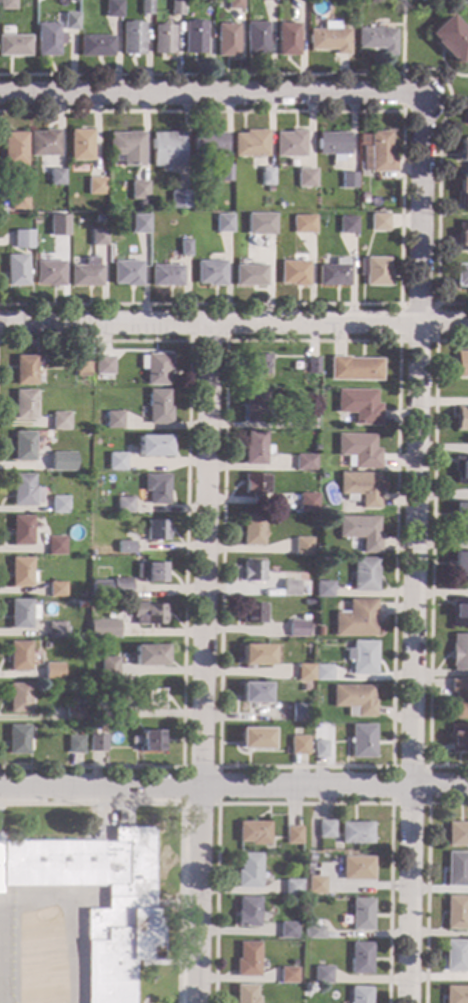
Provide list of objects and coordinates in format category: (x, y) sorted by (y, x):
building: (266, 0)
building: (233, 4)
building: (8, 5)
building: (145, 7)
building: (175, 8)
building: (112, 9)
building: (70, 21)
road: (401, 35)
building: (132, 38)
building: (193, 38)
building: (328, 38)
building: (162, 39)
building: (255, 39)
building: (286, 39)
building: (450, 39)
building: (49, 40)
building: (226, 40)
building: (377, 40)
building: (14, 46)
building: (95, 47)
road: (446, 70)
road: (200, 74)
road: (444, 74)
road: (401, 91)
road: (210, 93)
building: (467, 121)
building: (362, 140)
building: (43, 143)
building: (208, 144)
building: (250, 144)
building: (289, 144)
building: (80, 146)
building: (126, 146)
building: (333, 146)
building: (14, 149)
building: (166, 149)
building: (462, 149)
building: (378, 153)
building: (225, 173)
building: (55, 177)
building: (266, 177)
building: (304, 178)
building: (348, 180)
road: (437, 183)
building: (95, 186)
building: (269, 189)
building: (138, 191)
building: (463, 194)
building: (363, 196)
building: (180, 199)
building: (18, 200)
road: (400, 207)
building: (99, 220)
building: (378, 223)
building: (139, 224)
building: (222, 224)
building: (264, 225)
building: (303, 225)
building: (347, 225)
building: (27, 230)
building: (58, 234)
building: (462, 236)
building: (97, 237)
building: (22, 243)
building: (184, 248)
building: (15, 270)
building: (293, 272)
building: (374, 272)
building: (85, 273)
building: (125, 273)
building: (209, 273)
building: (333, 273)
building: (48, 274)
building: (461, 275)
building: (165, 276)
building: (248, 276)
road: (435, 304)
road: (234, 324)
road: (206, 342)
building: (256, 364)
building: (461, 364)
building: (103, 365)
building: (311, 365)
building: (81, 367)
building: (154, 368)
building: (354, 369)
building: (24, 371)
building: (87, 384)
building: (24, 405)
building: (254, 405)
building: (358, 406)
building: (157, 407)
building: (461, 419)
building: (112, 420)
building: (304, 420)
building: (59, 421)
building: (152, 446)
building: (23, 447)
building: (255, 449)
building: (357, 451)
building: (115, 462)
building: (51, 463)
building: (304, 463)
building: (460, 469)
building: (253, 484)
building: (156, 488)
building: (359, 488)
building: (25, 491)
building: (304, 502)
building: (58, 505)
building: (123, 506)
building: (248, 508)
building: (460, 515)
building: (21, 530)
building: (156, 530)
building: (252, 530)
building: (360, 531)
building: (55, 546)
building: (302, 546)
building: (125, 547)
building: (319, 549)
road: (415, 550)
road: (184, 551)
road: (431, 557)
building: (459, 564)
building: (151, 572)
building: (252, 572)
building: (21, 573)
building: (364, 574)
building: (121, 587)
building: (290, 587)
building: (100, 588)
building: (56, 589)
building: (323, 589)
building: (252, 613)
building: (459, 613)
building: (22, 614)
building: (148, 615)
building: (356, 619)
building: (105, 629)
building: (297, 629)
building: (56, 631)
building: (318, 631)
building: (459, 652)
building: (19, 656)
building: (149, 656)
building: (255, 656)
building: (361, 657)
road: (202, 664)
building: (108, 668)
building: (304, 673)
building: (323, 673)
building: (47, 674)
building: (302, 689)
building: (253, 693)
building: (19, 698)
building: (152, 699)
building: (353, 700)
building: (458, 700)
building: (121, 713)
building: (298, 713)
building: (73, 715)
building: (254, 739)
building: (458, 739)
building: (18, 740)
building: (151, 741)
building: (362, 741)
building: (97, 743)
building: (75, 745)
building: (298, 746)
building: (320, 749)
road: (217, 767)
road: (218, 767)
road: (233, 787)
road: (390, 803)
road: (303, 804)
road: (179, 813)
building: (325, 829)
building: (253, 833)
building: (355, 833)
building: (457, 835)
building: (293, 836)
building: (356, 869)
building: (455, 870)
building: (248, 871)
road: (425, 883)
building: (315, 886)
building: (292, 887)
road: (107, 897)
road: (165, 903)
building: (247, 912)
building: (455, 912)
building: (360, 915)
building: (287, 930)
building: (314, 933)
building: (122, 935)
building: (454, 956)
building: (360, 958)
building: (246, 960)
road: (155, 963)
building: (286, 975)
building: (322, 975)
building: (244, 994)
building: (359, 995)
building: (456, 995)

